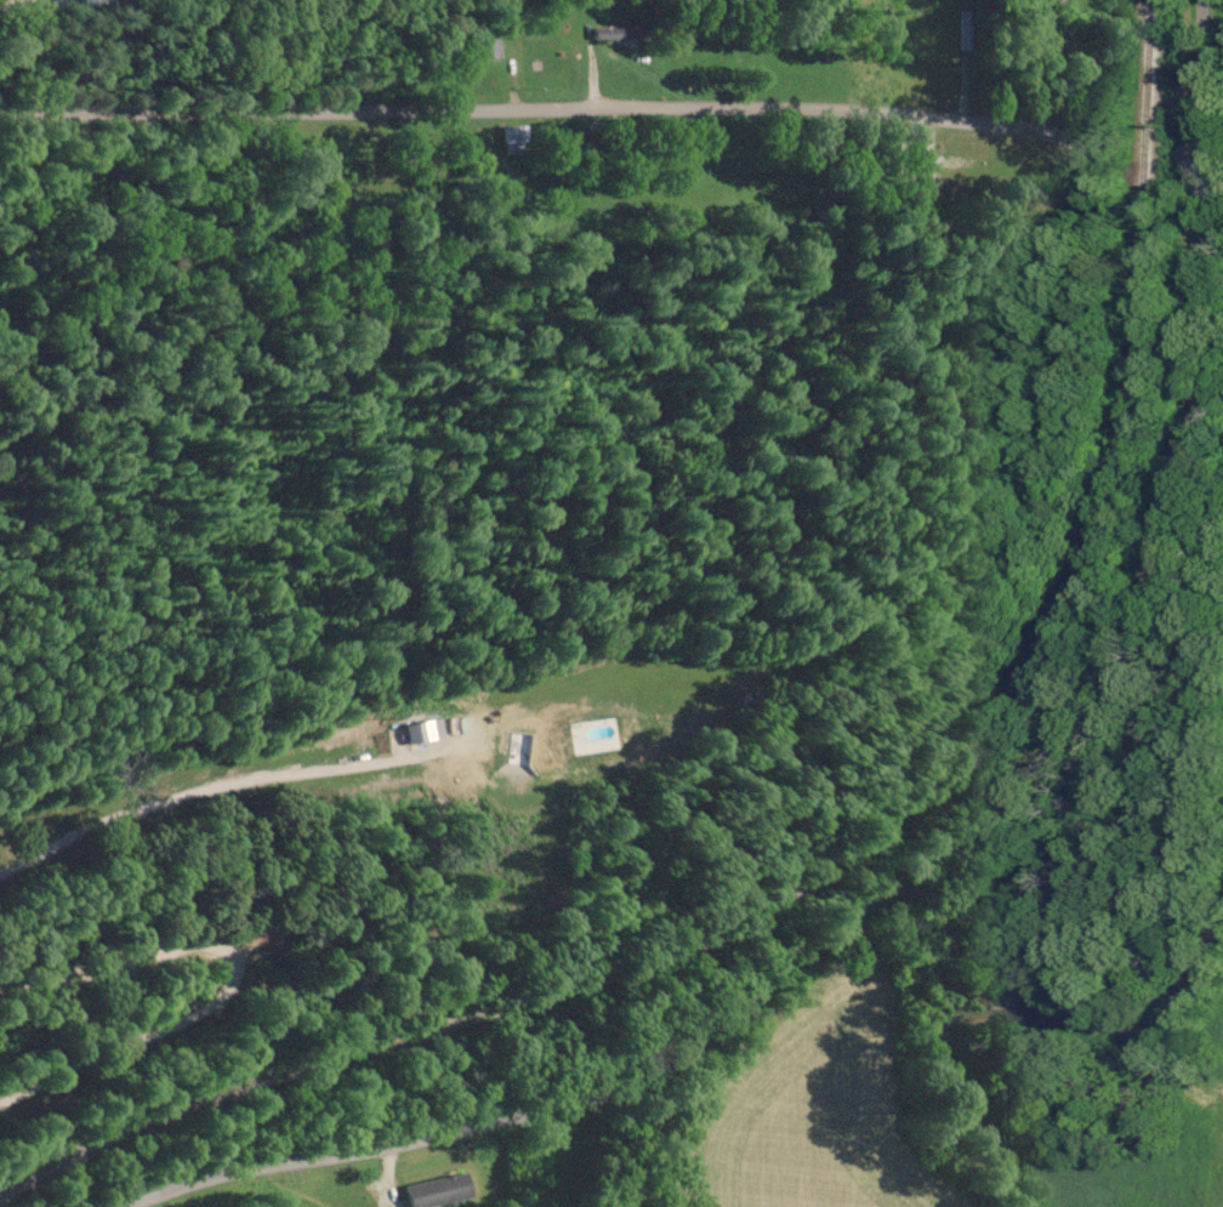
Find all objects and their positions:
building: (620, 33)
road: (601, 109)
building: (513, 140)
building: (420, 731)
building: (516, 751)
road: (212, 788)
railway: (855, 842)
road: (972, 859)
road: (231, 979)
building: (439, 1190)

